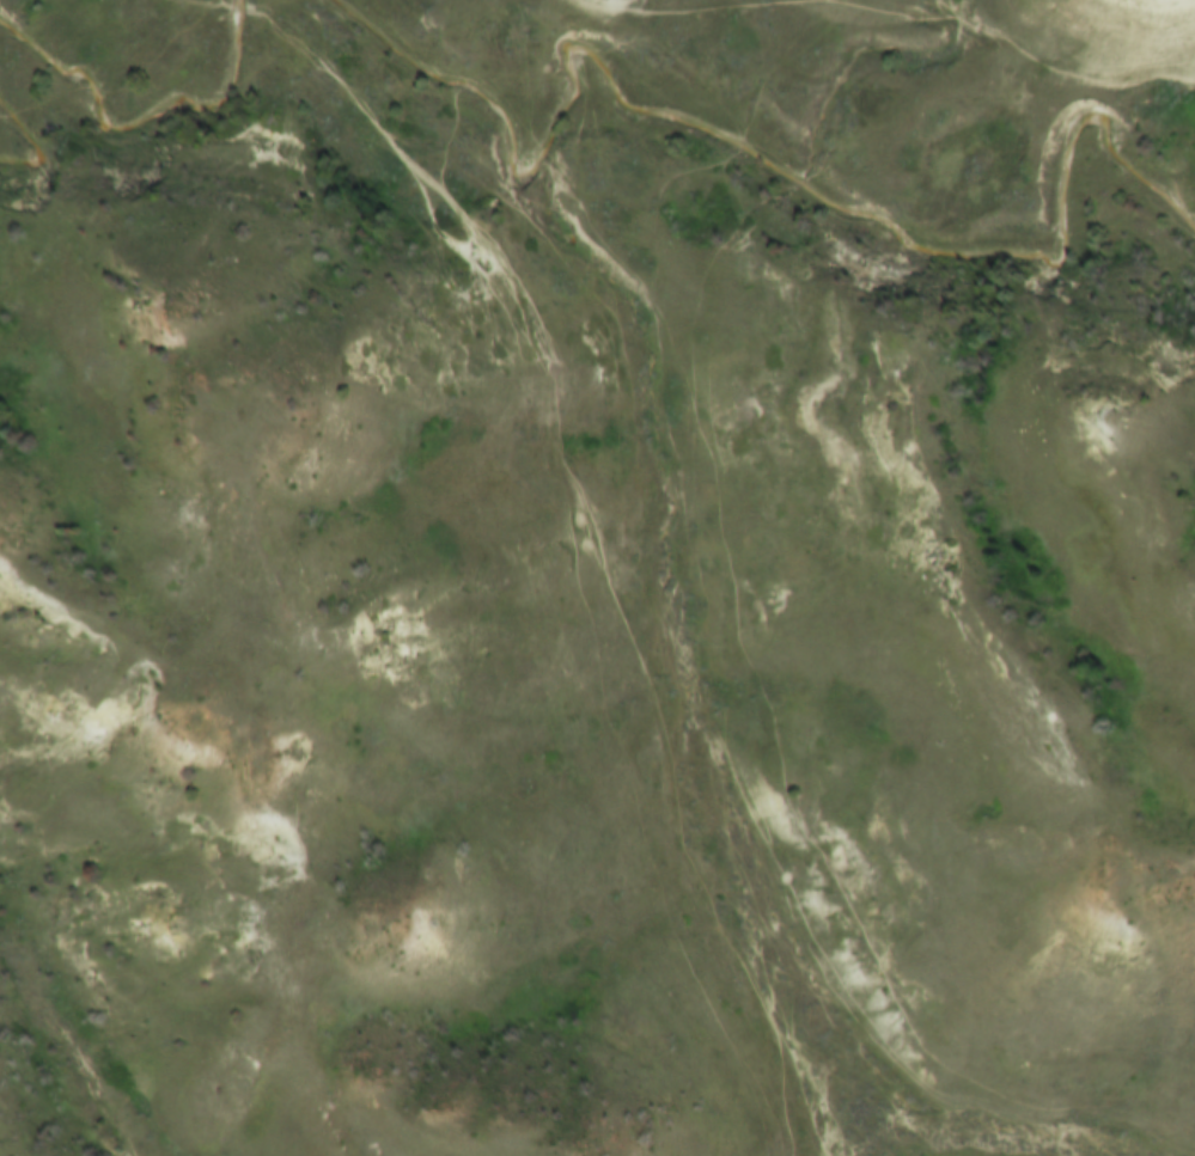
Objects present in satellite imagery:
road: (695, 1)
road: (1012, 43)
road: (628, 530)

